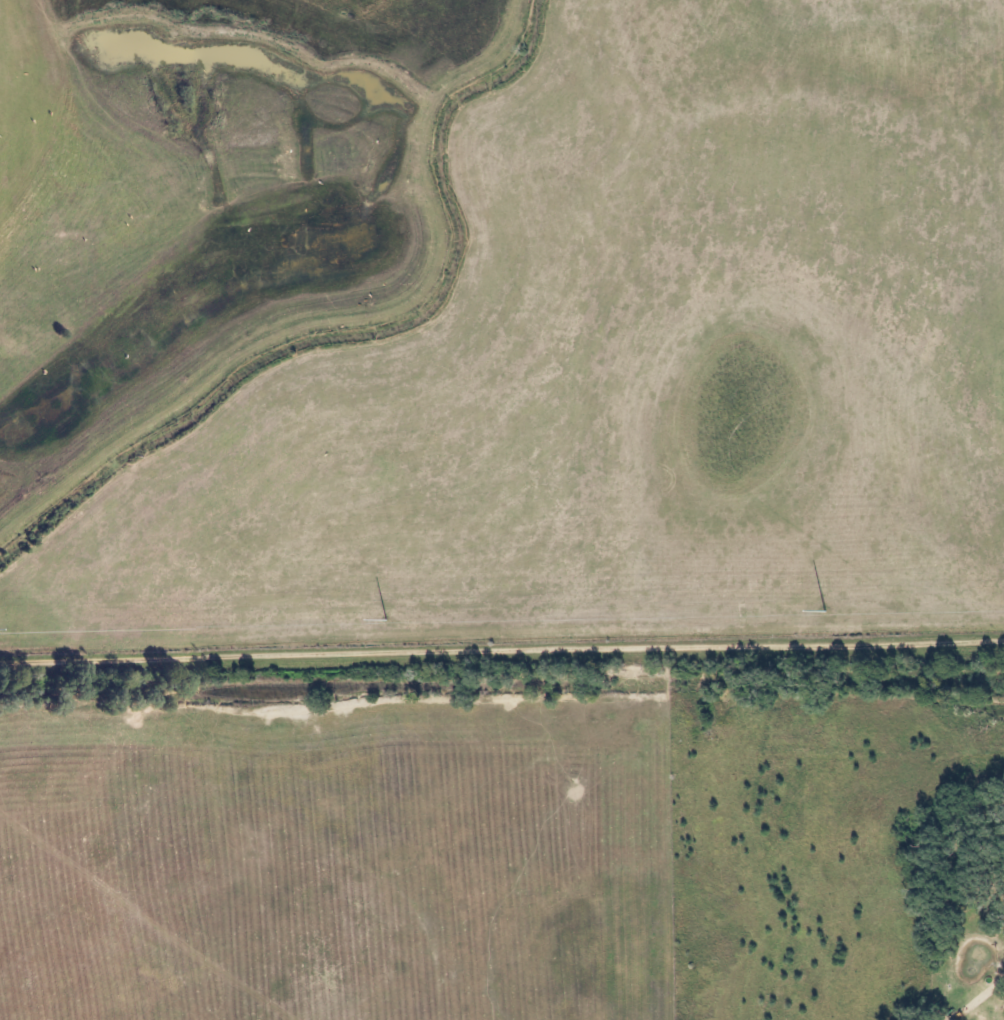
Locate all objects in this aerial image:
road: (501, 651)
road: (980, 998)

